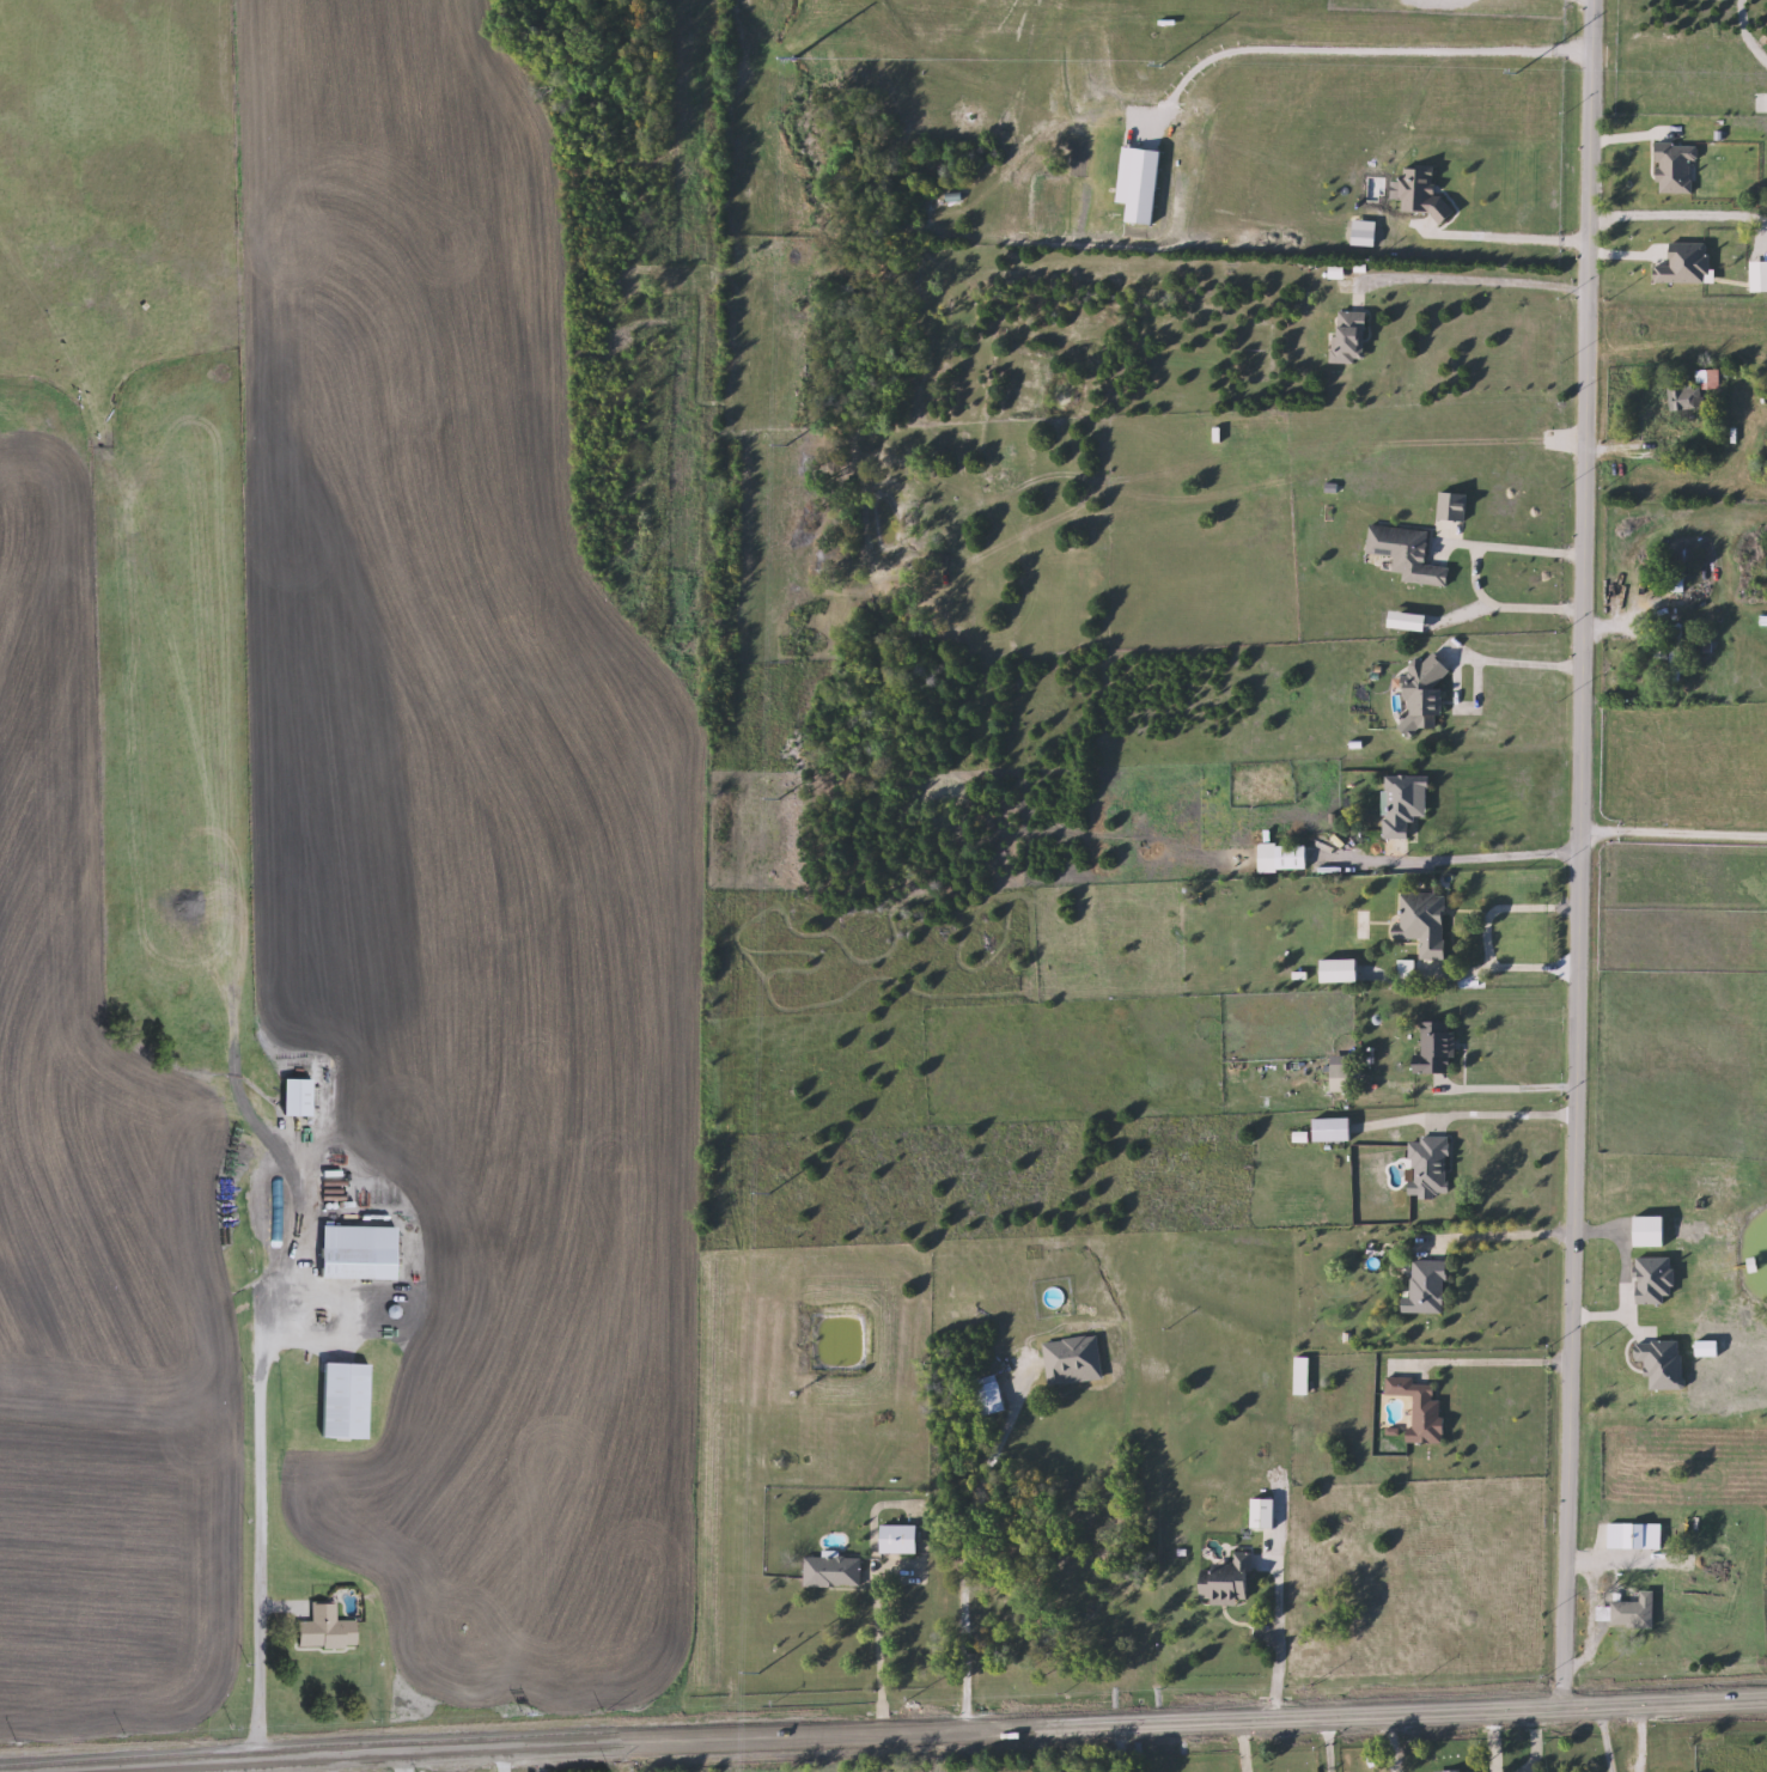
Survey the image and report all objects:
power tower: (764, 35)
power tower: (1154, 42)
road: (1365, 49)
power tower: (1509, 53)
road: (1677, 213)
building: (1761, 230)
road: (1509, 236)
road: (1461, 274)
building: (1351, 337)
building: (1694, 390)
power tower: (761, 437)
building: (1408, 554)
road: (1476, 568)
building: (1675, 584)
building: (1661, 650)
building: (1676, 659)
road: (1518, 663)
building: (1425, 694)
power tower: (753, 774)
building: (1403, 805)
road: (1672, 833)
road: (1576, 853)
road: (1480, 857)
building: (1293, 858)
road: (1505, 900)
building: (1425, 922)
road: (1511, 958)
building: (1438, 1048)
building: (1342, 1074)
road: (1518, 1086)
building: (299, 1098)
road: (1498, 1116)
building: (1334, 1131)
building: (1430, 1168)
power tower: (743, 1191)
road: (1494, 1238)
building: (347, 1263)
road: (1616, 1273)
building: (1428, 1289)
road: (346, 1317)
building: (1073, 1362)
road: (1486, 1362)
building: (1303, 1376)
building: (989, 1395)
building: (346, 1402)
building: (1421, 1409)
road: (260, 1427)
building: (1265, 1515)
building: (901, 1540)
building: (834, 1572)
road: (965, 1572)
building: (1227, 1582)
building: (1635, 1613)
building: (1604, 1615)
building: (327, 1636)
road: (1279, 1639)
road: (879, 1656)
power tower: (732, 1676)
road: (907, 1733)
road: (1603, 1738)
road: (1492, 1741)
road: (1535, 1741)
road: (1330, 1743)
road: (1114, 1748)
road: (504, 1759)
road: (404, 1761)
road: (330, 1762)
building: (1461, 1771)

